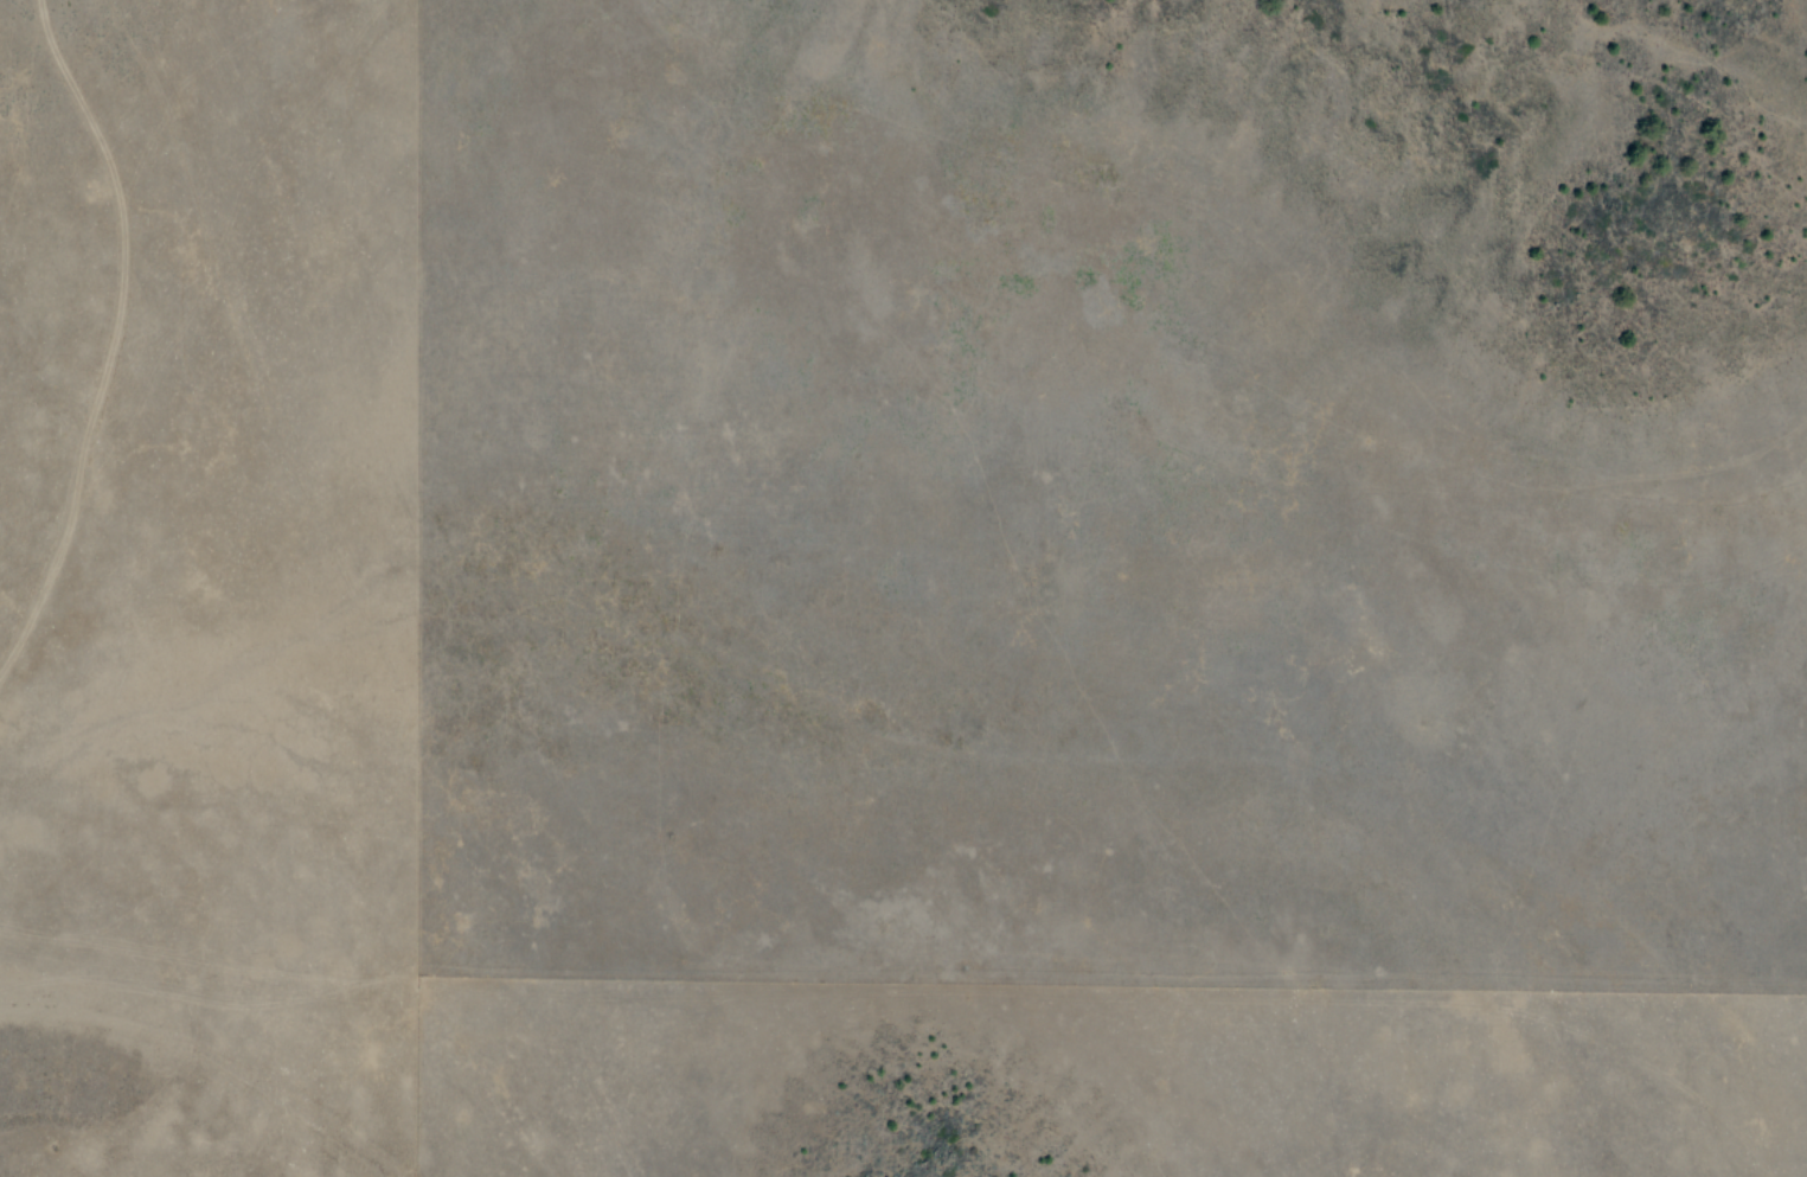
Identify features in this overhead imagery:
road: (113, 338)

